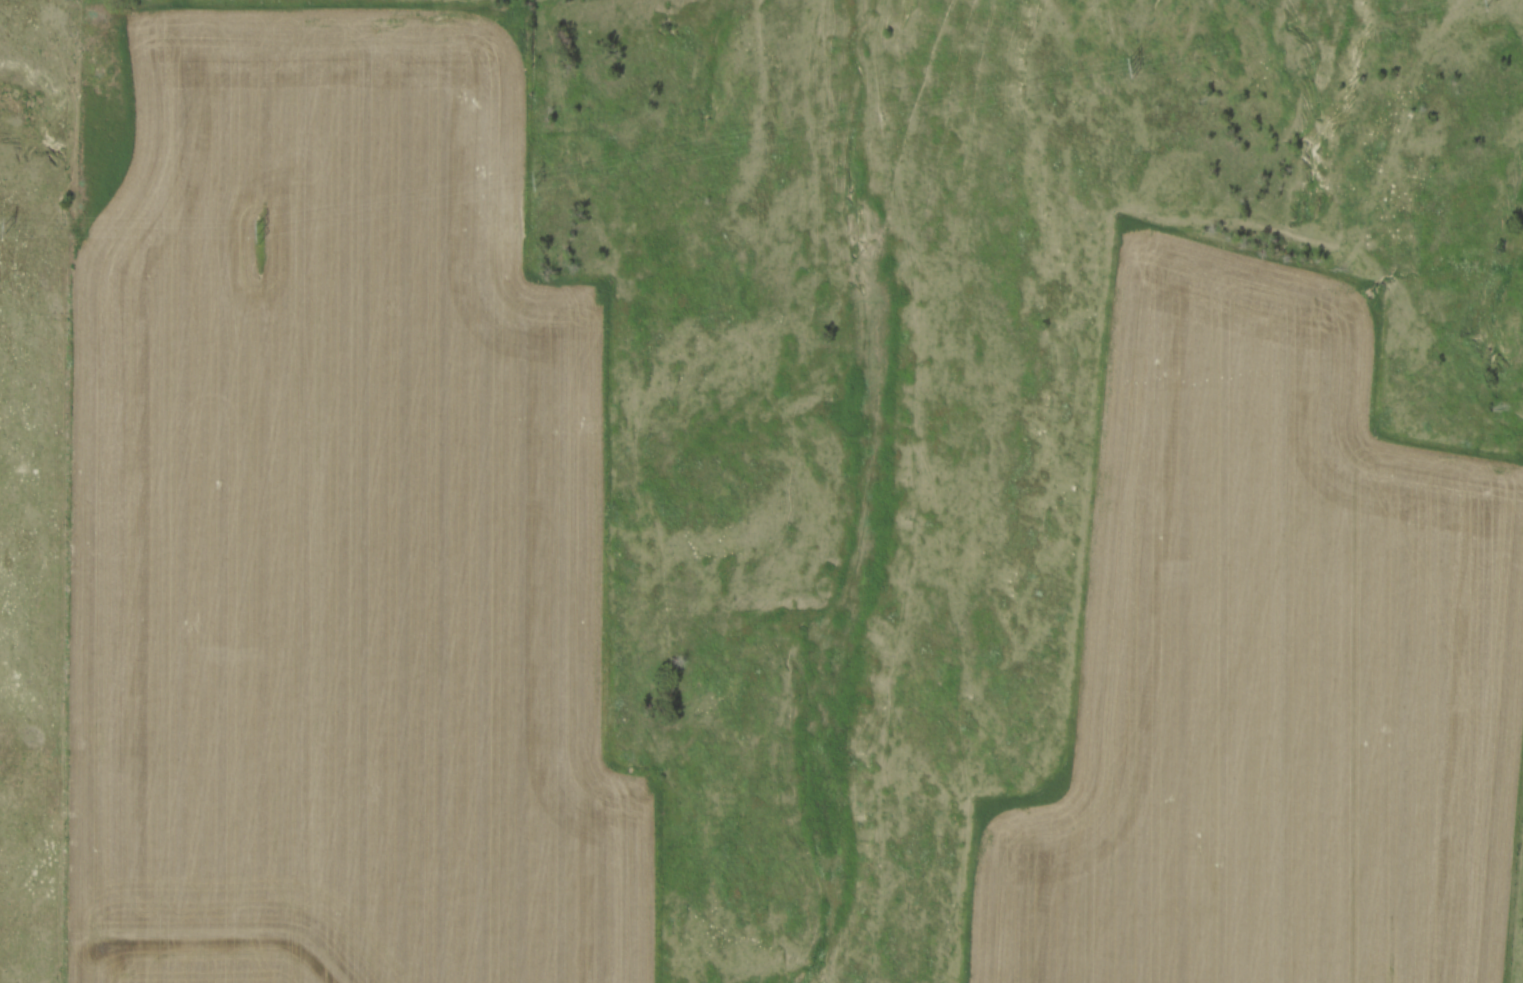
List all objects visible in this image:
power tower: (1485, 0)
power tower: (1133, 66)
power tower: (537, 180)
power tower: (7, 228)
power tower: (260, 233)

